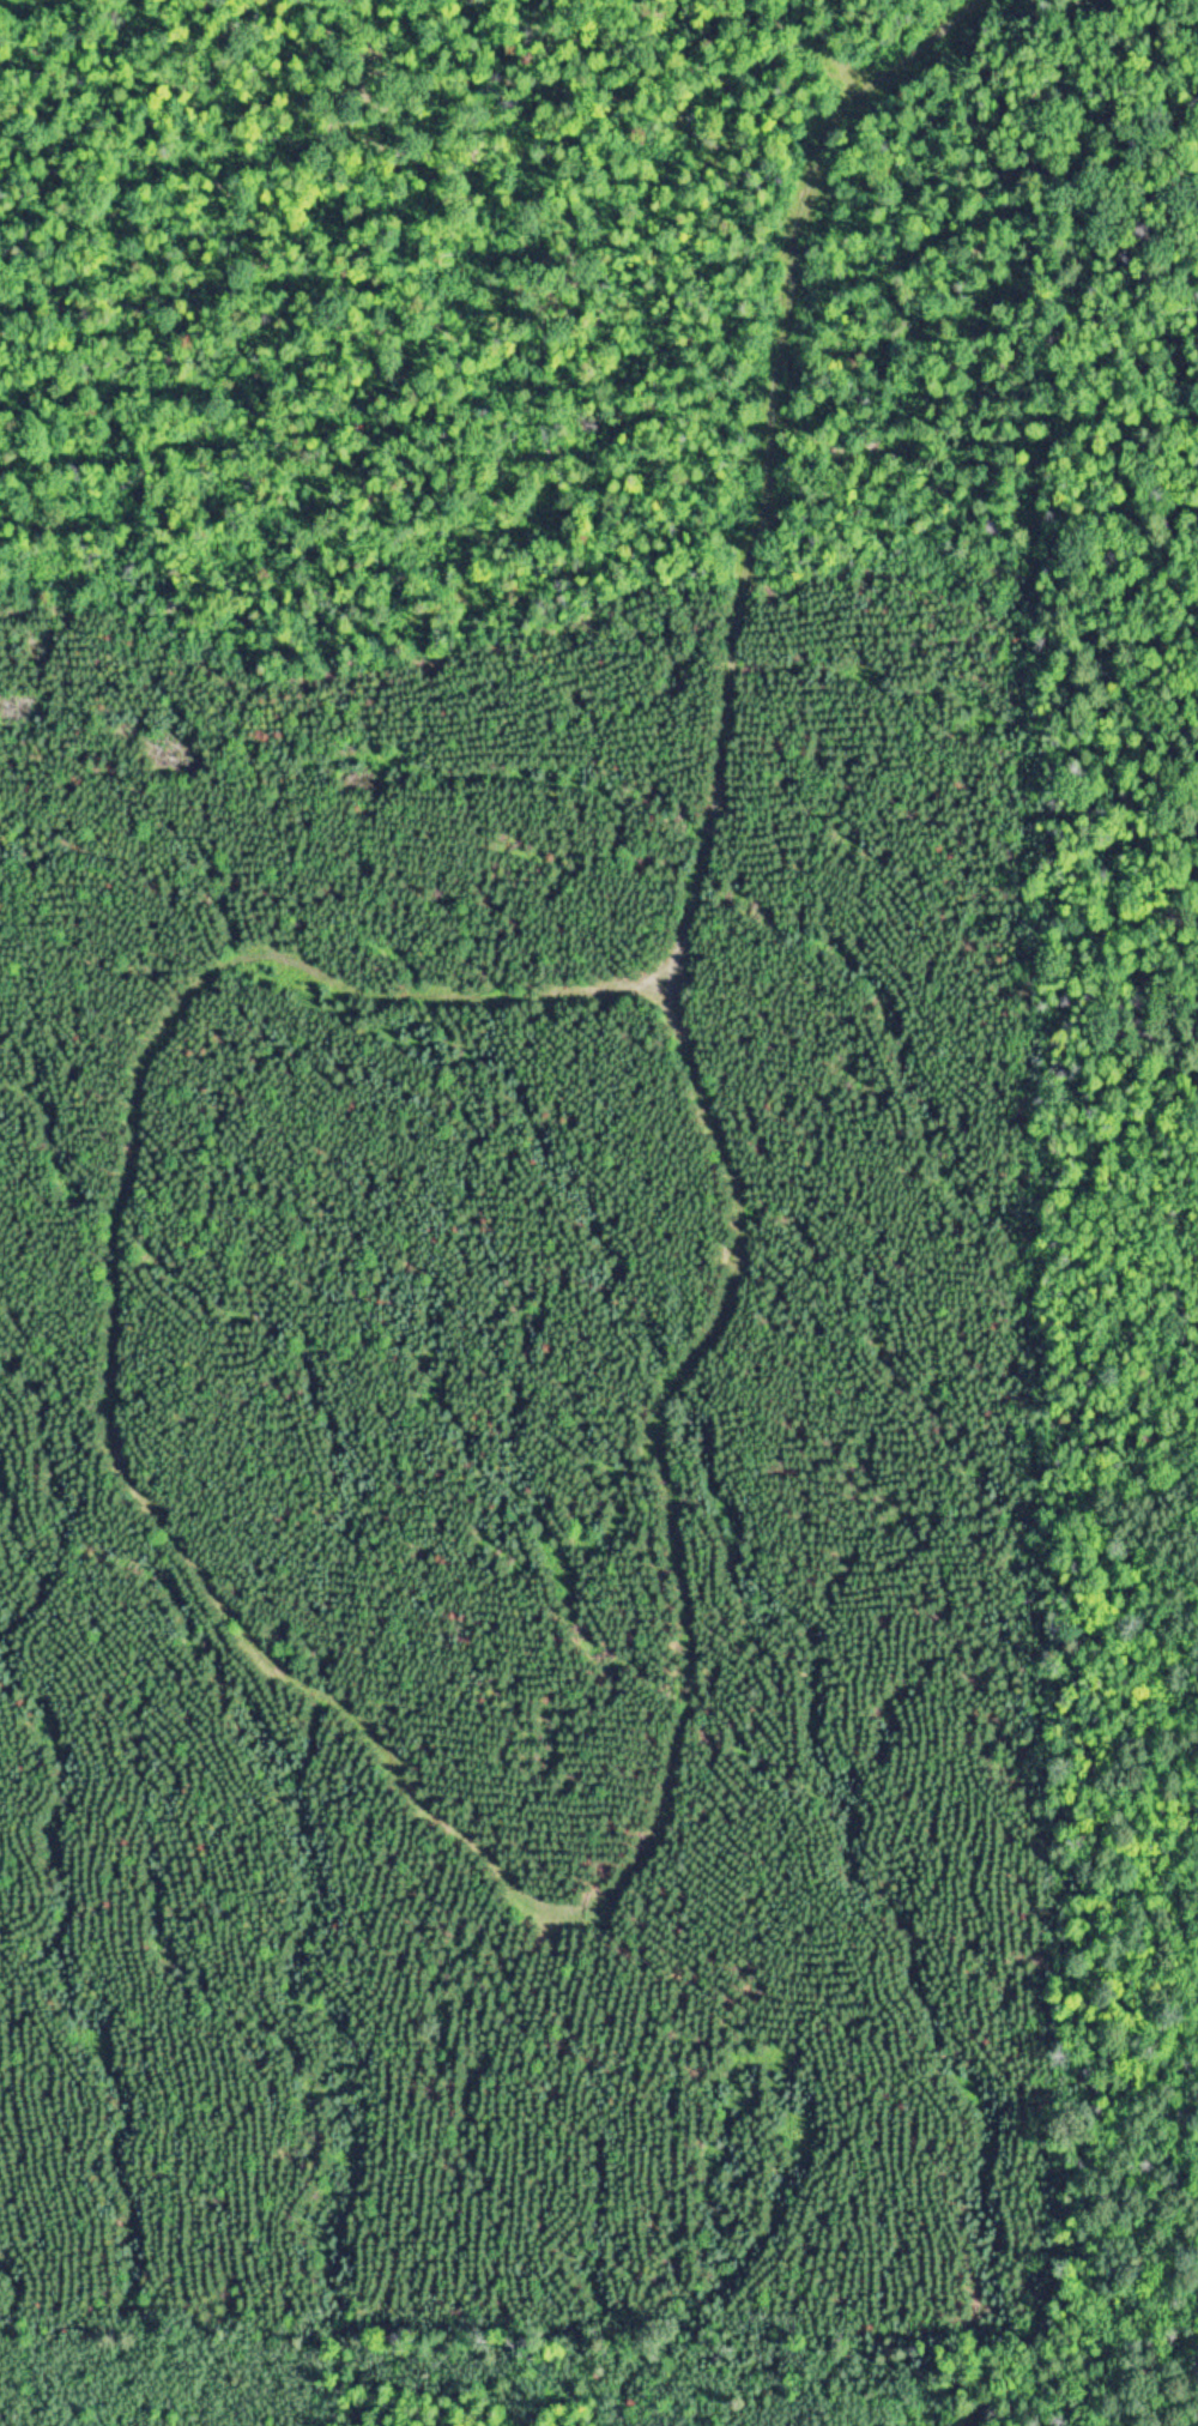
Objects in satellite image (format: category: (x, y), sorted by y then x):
road: (757, 447)
road: (361, 1726)

